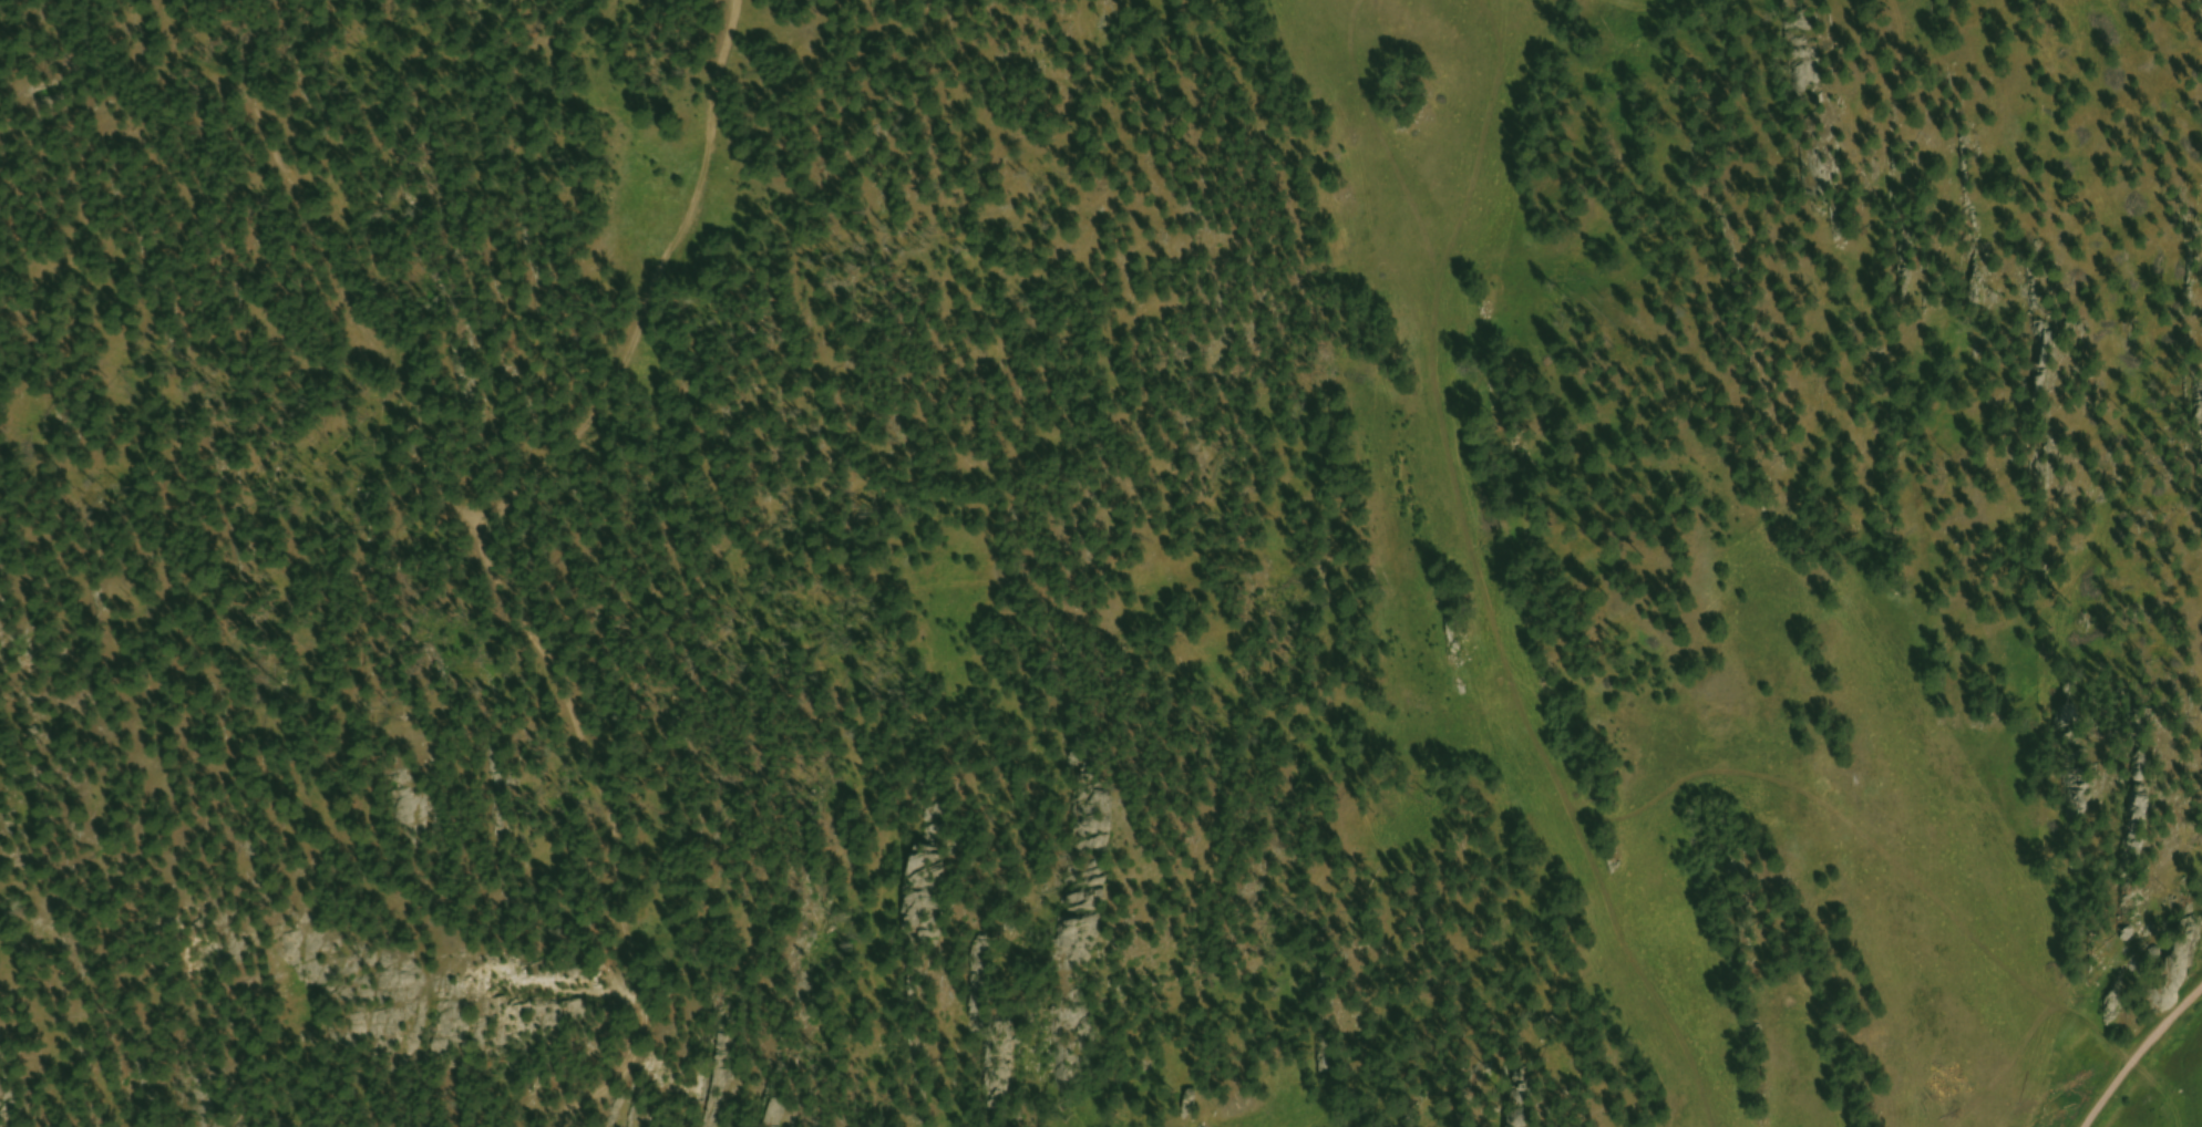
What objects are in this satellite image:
road: (709, 107)
road: (2147, 1059)

